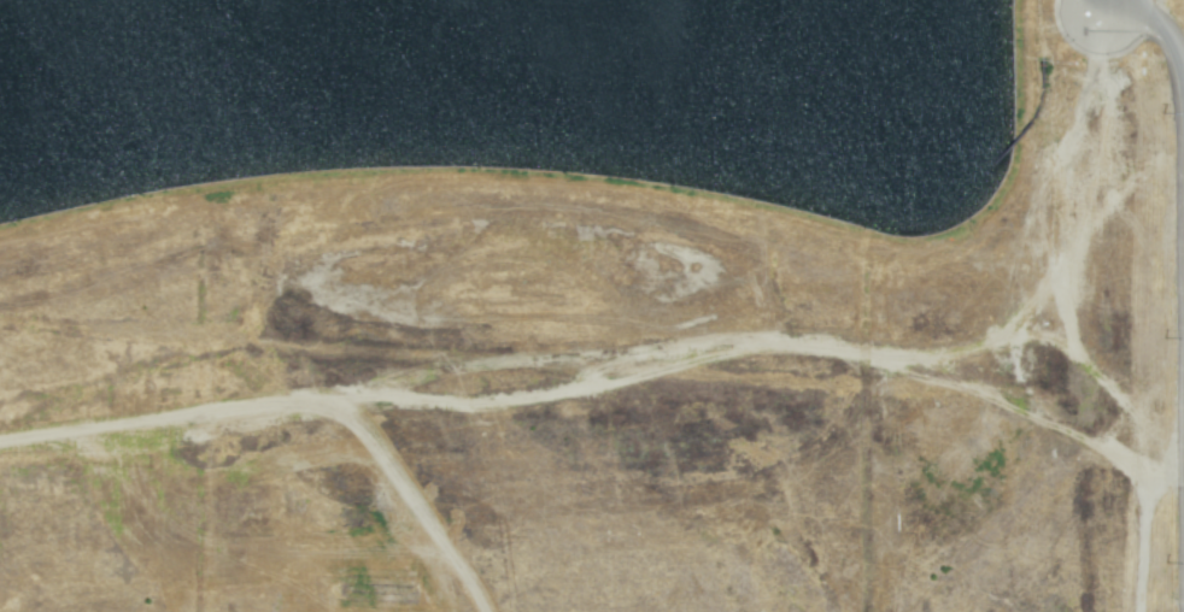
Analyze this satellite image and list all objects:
road: (1094, 2)
road: (1164, 40)

